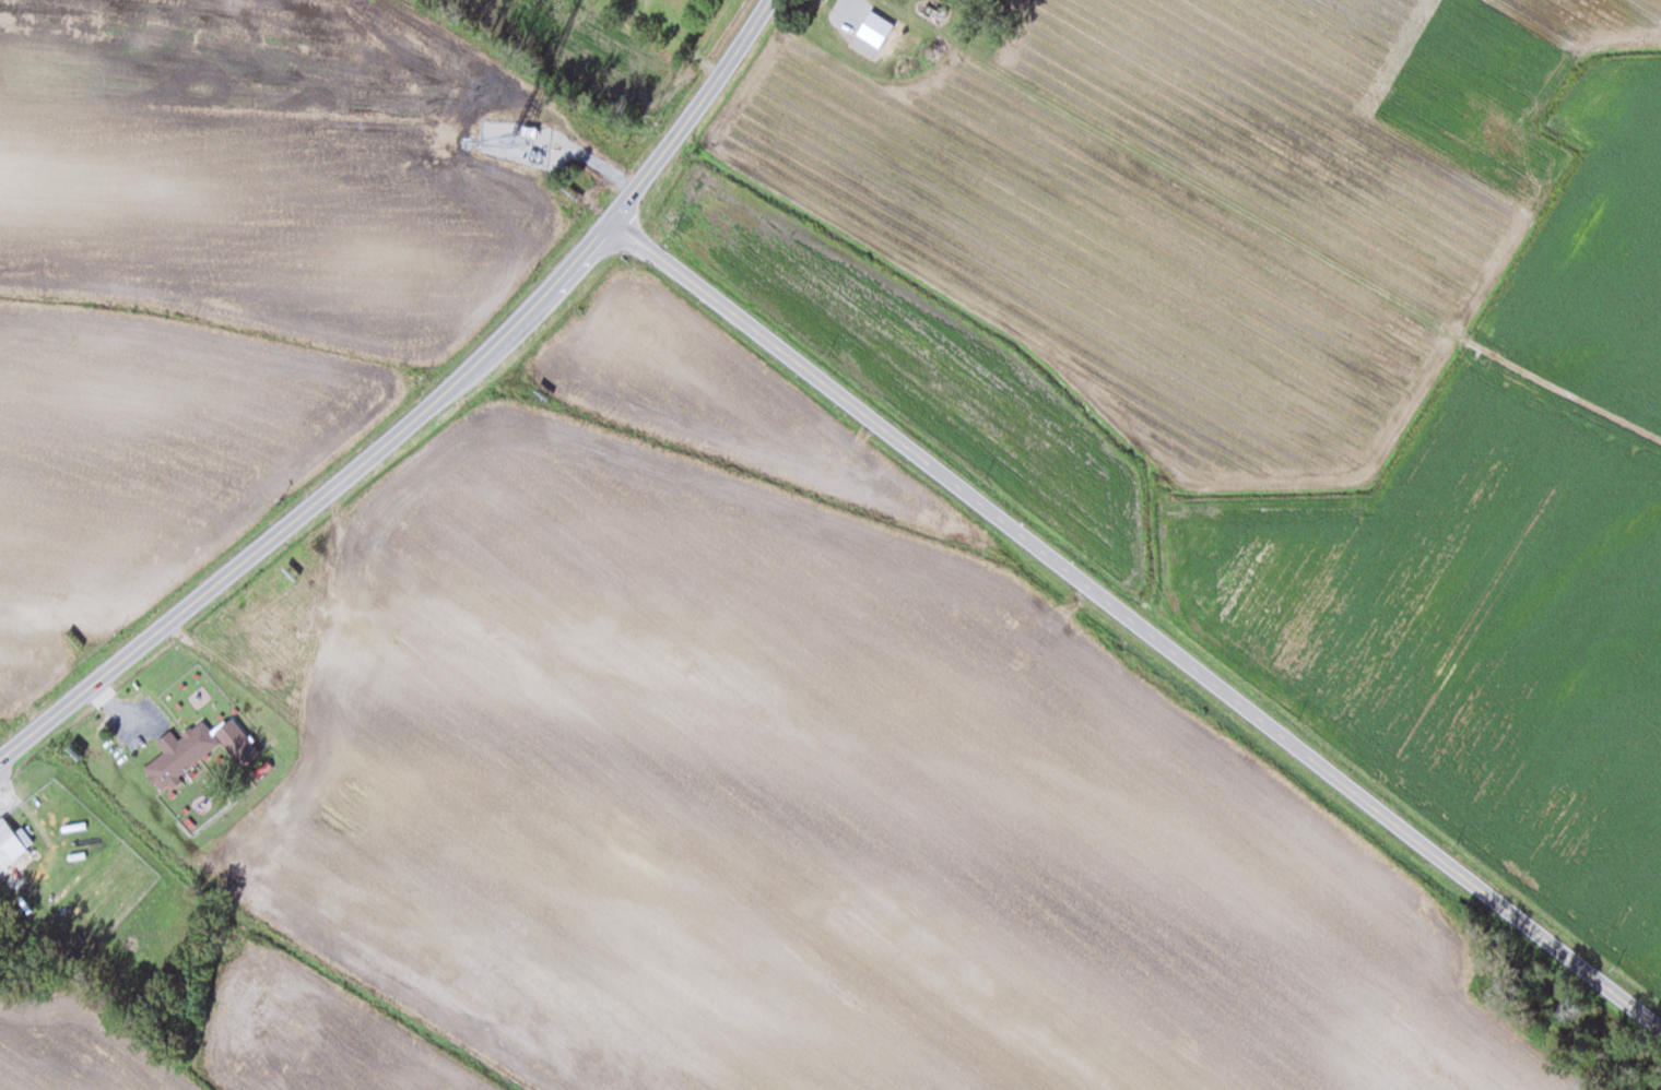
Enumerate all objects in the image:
building: (905, 51)
road: (419, 412)
road: (1135, 621)
building: (179, 753)
building: (9, 842)

